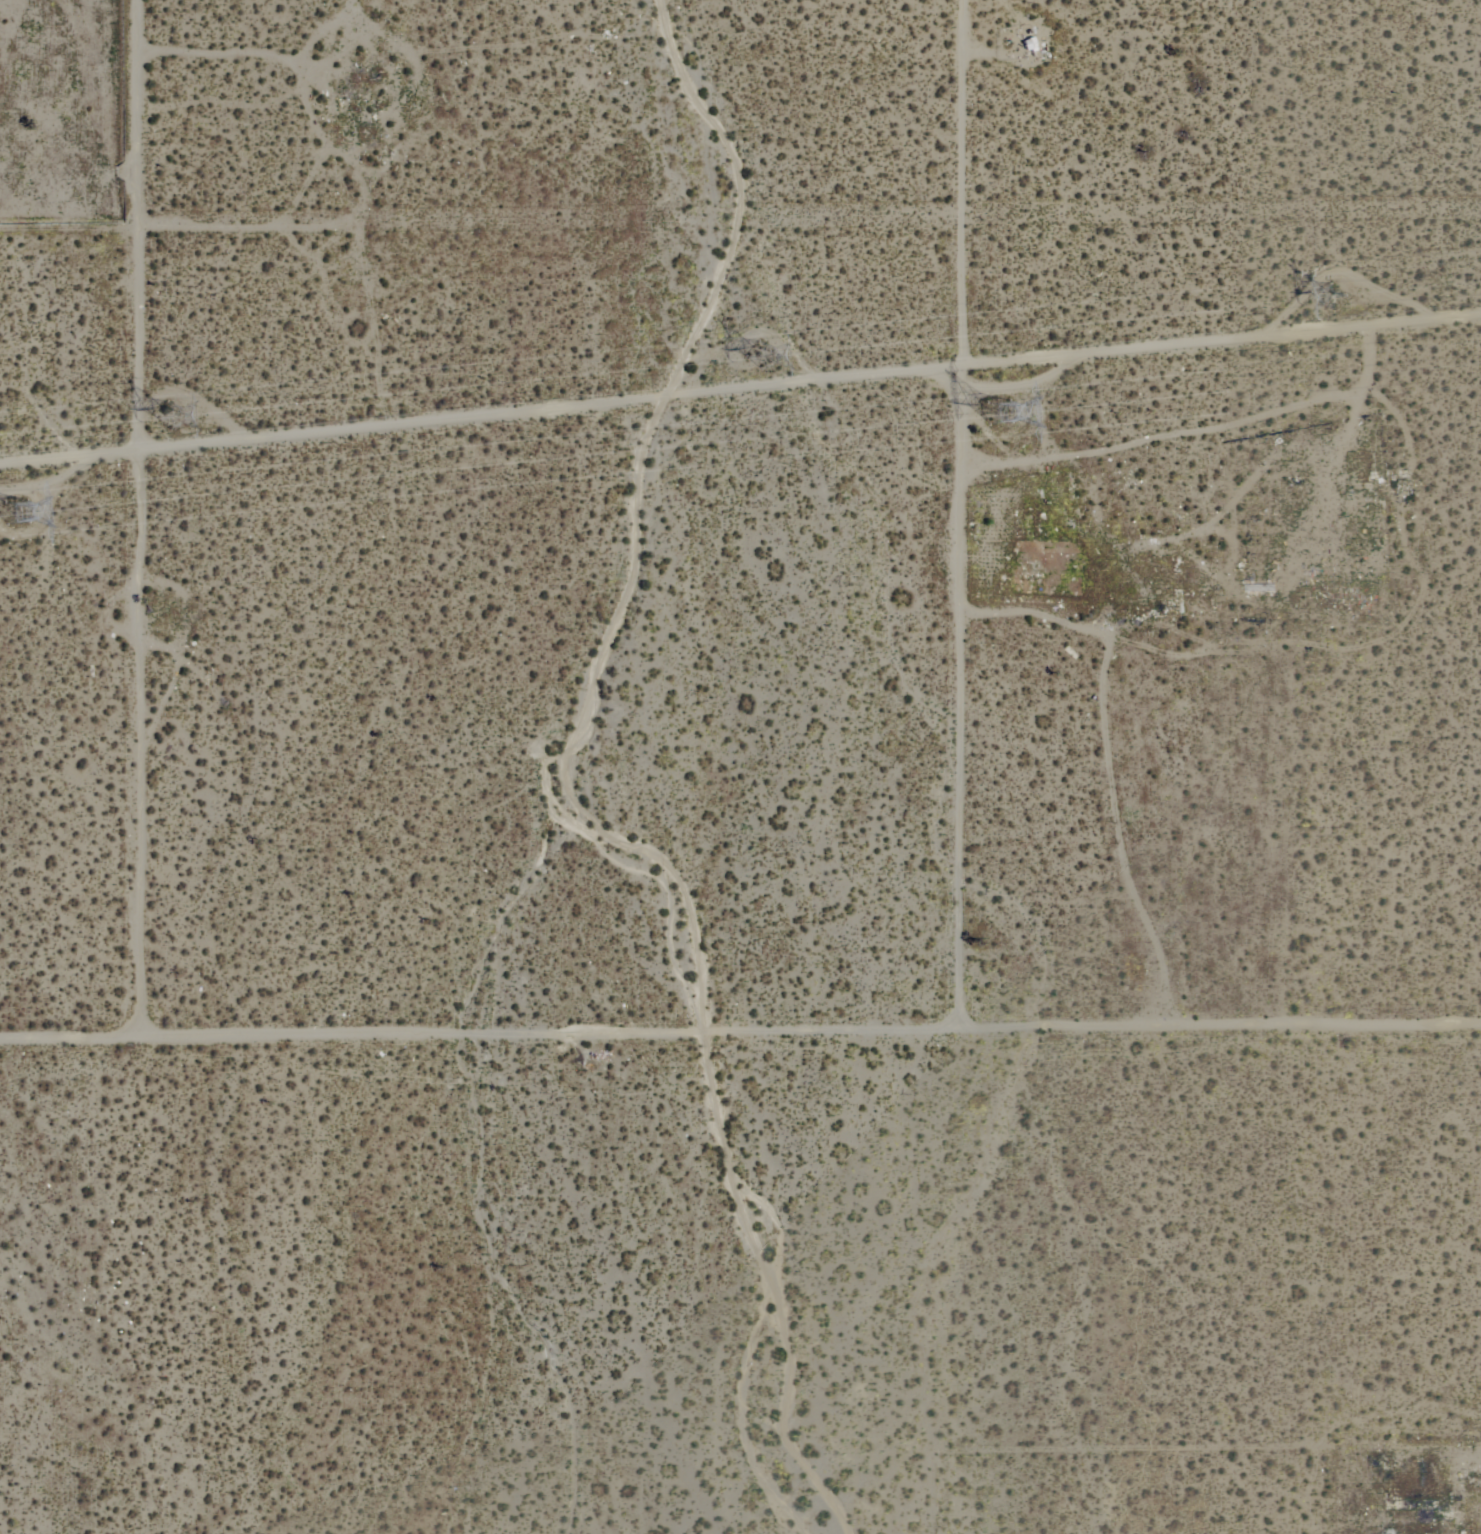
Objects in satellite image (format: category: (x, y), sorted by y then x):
road: (138, 125)
road: (740, 245)
power tower: (1342, 310)
power tower: (770, 356)
road: (740, 392)
power tower: (994, 417)
power tower: (180, 422)
road: (1157, 436)
road: (1338, 458)
power tower: (23, 511)
road: (954, 518)
road: (128, 641)
road: (741, 1044)

